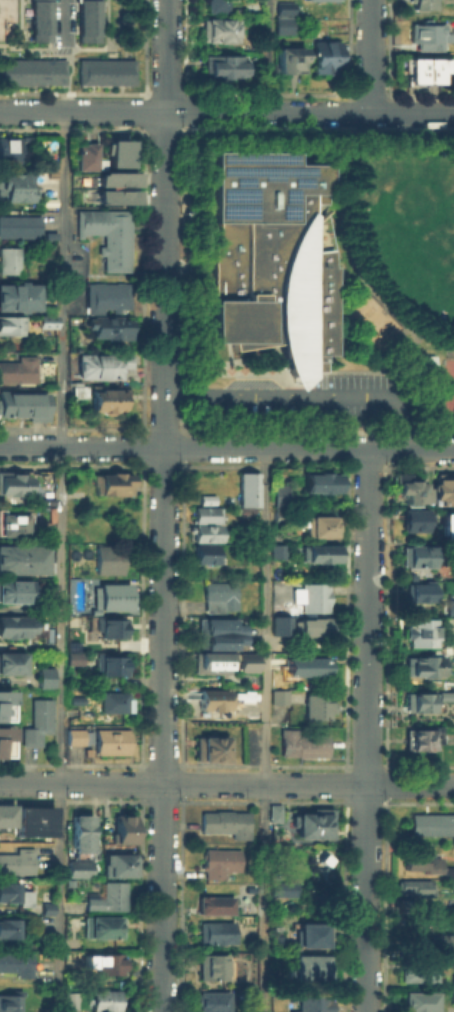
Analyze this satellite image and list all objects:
building: (317, 0)
building: (421, 3)
building: (215, 5)
building: (282, 6)
building: (245, 10)
road: (64, 19)
building: (38, 20)
building: (85, 21)
building: (280, 24)
building: (216, 28)
building: (425, 36)
building: (322, 55)
road: (268, 56)
road: (371, 56)
building: (287, 58)
building: (218, 65)
building: (423, 67)
building: (31, 69)
building: (104, 69)
road: (71, 72)
road: (226, 112)
building: (7, 149)
building: (116, 149)
building: (84, 155)
building: (115, 178)
building: (14, 187)
building: (115, 196)
building: (18, 224)
park: (404, 231)
building: (106, 233)
road: (350, 253)
building: (269, 257)
building: (8, 259)
park: (321, 280)
building: (17, 295)
building: (105, 295)
building: (45, 319)
building: (11, 322)
building: (108, 326)
building: (429, 360)
building: (99, 364)
building: (17, 368)
building: (47, 371)
park: (447, 387)
building: (76, 390)
road: (417, 392)
building: (103, 397)
parking lot: (311, 398)
building: (22, 404)
road: (227, 448)
road: (261, 469)
building: (320, 480)
building: (11, 481)
building: (112, 482)
building: (409, 488)
building: (442, 489)
building: (247, 492)
building: (279, 494)
building: (204, 496)
road: (163, 506)
building: (206, 514)
building: (280, 514)
building: (413, 520)
building: (11, 522)
building: (315, 523)
building: (446, 524)
building: (205, 532)
building: (276, 549)
building: (319, 551)
building: (206, 553)
building: (414, 556)
building: (20, 558)
building: (108, 558)
road: (58, 560)
building: (15, 589)
building: (416, 591)
building: (110, 595)
building: (217, 595)
building: (310, 595)
building: (449, 607)
road: (178, 618)
road: (342, 618)
building: (280, 623)
building: (15, 625)
building: (317, 625)
building: (109, 626)
building: (216, 626)
building: (421, 629)
building: (449, 643)
building: (73, 653)
building: (11, 654)
building: (208, 659)
building: (107, 660)
building: (422, 660)
building: (246, 661)
building: (307, 664)
building: (43, 674)
building: (445, 694)
building: (277, 696)
building: (72, 697)
building: (212, 698)
building: (417, 700)
building: (112, 701)
building: (4, 704)
building: (316, 706)
building: (36, 721)
road: (263, 730)
road: (367, 730)
building: (74, 736)
building: (4, 739)
building: (416, 739)
building: (110, 741)
building: (300, 743)
building: (207, 747)
road: (259, 768)
road: (226, 783)
building: (4, 813)
building: (279, 817)
building: (33, 818)
building: (224, 821)
building: (314, 822)
building: (433, 824)
building: (122, 829)
building: (78, 833)
building: (417, 859)
building: (16, 860)
building: (217, 862)
building: (118, 864)
building: (77, 867)
building: (449, 869)
building: (280, 884)
building: (413, 885)
building: (453, 885)
building: (14, 892)
building: (107, 898)
building: (214, 903)
building: (45, 907)
building: (101, 926)
building: (7, 928)
building: (216, 932)
building: (309, 932)
building: (443, 941)
building: (107, 962)
building: (16, 963)
building: (210, 965)
building: (309, 965)
building: (421, 970)
building: (452, 986)
building: (101, 999)
building: (70, 1000)
building: (418, 1000)
building: (210, 1001)
building: (310, 1002)
building: (8, 1003)

